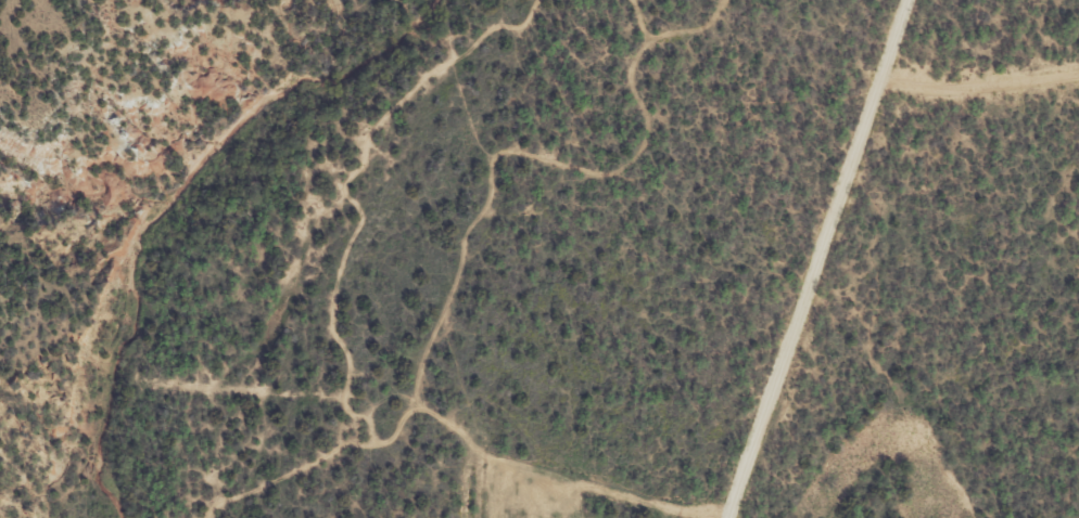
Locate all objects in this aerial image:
road: (821, 259)

